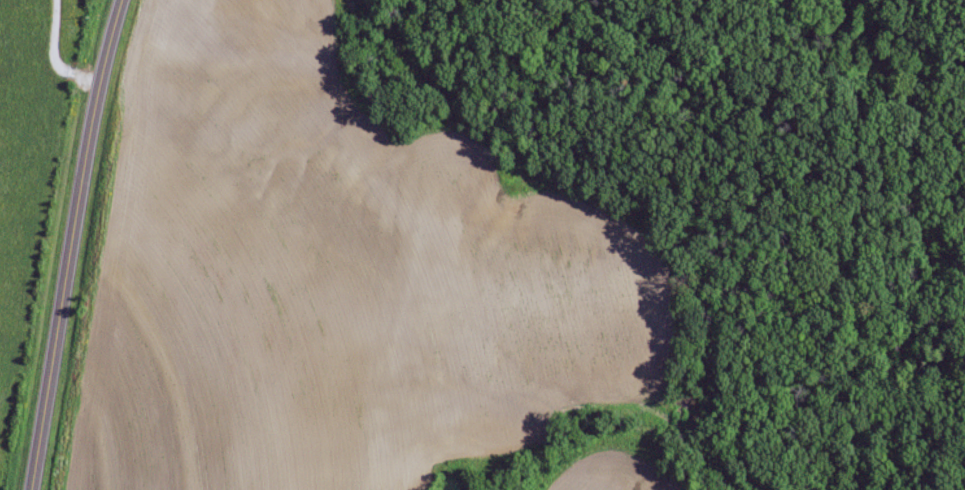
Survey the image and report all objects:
road: (51, 58)
road: (72, 244)

